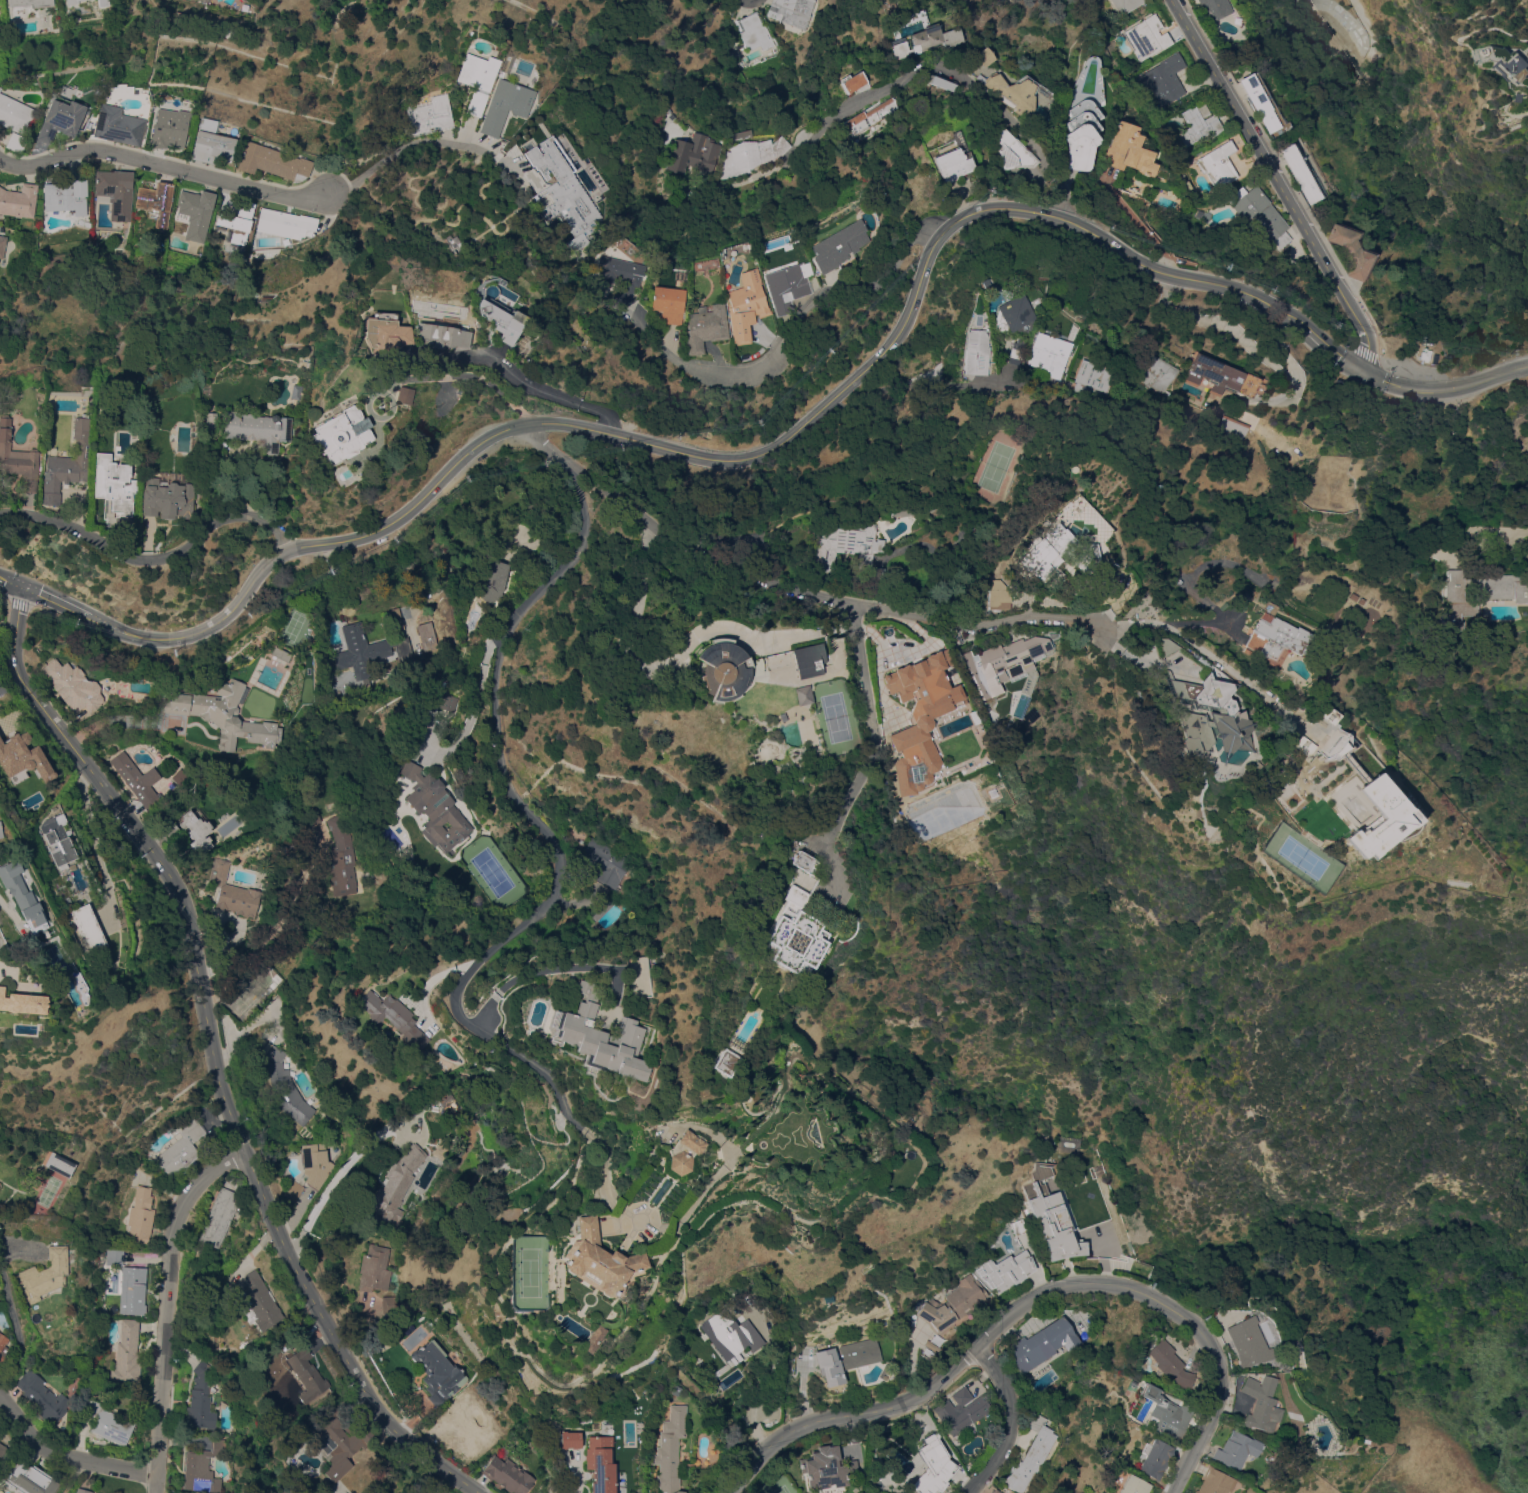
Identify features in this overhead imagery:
building: (72, 1)
building: (104, 2)
building: (885, 2)
building: (30, 3)
building: (1127, 5)
building: (245, 7)
building: (1213, 8)
building: (793, 12)
building: (908, 27)
building: (756, 32)
building: (1147, 37)
building: (924, 40)
building: (1051, 46)
building: (984, 56)
building: (1518, 65)
building: (1165, 78)
building: (478, 79)
building: (852, 81)
building: (941, 85)
road: (974, 88)
building: (1013, 92)
building: (506, 105)
building: (1261, 105)
building: (16, 114)
building: (430, 115)
building: (1083, 115)
building: (870, 116)
building: (61, 119)
building: (118, 125)
building: (1197, 125)
building: (170, 128)
building: (17, 142)
building: (212, 142)
road: (422, 142)
building: (1000, 143)
building: (1128, 150)
building: (694, 153)
building: (753, 154)
building: (273, 162)
building: (952, 164)
building: (1218, 164)
road: (162, 167)
building: (1300, 172)
road: (1279, 183)
building: (1187, 185)
building: (563, 191)
building: (116, 192)
building: (66, 196)
building: (19, 201)
building: (157, 202)
building: (196, 212)
building: (1257, 215)
building: (236, 222)
building: (285, 223)
building: (289, 243)
building: (2, 244)
building: (807, 245)
building: (840, 246)
building: (1350, 249)
building: (623, 278)
building: (789, 286)
building: (747, 305)
building: (670, 307)
building: (1013, 316)
building: (502, 319)
building: (706, 327)
building: (386, 332)
building: (442, 335)
road: (792, 338)
road: (1243, 338)
road: (1276, 340)
road: (1332, 346)
building: (976, 352)
building: (1016, 354)
building: (1049, 354)
road: (1525, 365)
building: (1154, 371)
traffic signals: (1363, 371)
building: (1094, 375)
building: (1221, 376)
road: (455, 378)
road: (542, 388)
road: (1443, 390)
building: (402, 395)
road: (903, 399)
building: (212, 420)
building: (1233, 426)
building: (258, 428)
building: (341, 432)
building: (17, 459)
road: (725, 459)
building: (67, 463)
building: (114, 484)
building: (166, 498)
building: (847, 547)
building: (1057, 554)
road: (154, 557)
road: (11, 580)
building: (494, 582)
traffic signals: (23, 585)
road: (793, 586)
building: (1481, 592)
building: (998, 595)
building: (1352, 596)
building: (1359, 600)
road: (55, 601)
road: (634, 610)
road: (1166, 620)
building: (398, 622)
road: (799, 633)
building: (429, 636)
building: (1275, 640)
building: (368, 650)
building: (282, 654)
building: (809, 659)
building: (1000, 662)
building: (724, 671)
road: (1231, 672)
road: (858, 673)
building: (74, 685)
building: (2, 687)
building: (804, 695)
building: (448, 700)
road: (476, 705)
building: (225, 714)
building: (1209, 714)
building: (1328, 714)
road: (118, 721)
building: (918, 725)
building: (1302, 743)
building: (22, 758)
building: (138, 779)
road: (853, 793)
building: (439, 813)
building: (1377, 814)
building: (312, 817)
building: (168, 825)
building: (197, 830)
building: (1, 831)
building: (58, 838)
building: (788, 845)
building: (341, 857)
building: (798, 860)
building: (603, 863)
road: (558, 874)
building: (233, 891)
building: (22, 894)
building: (89, 928)
building: (791, 935)
road: (536, 972)
building: (70, 982)
building: (23, 1004)
building: (393, 1017)
building: (602, 1038)
road: (214, 1051)
building: (721, 1062)
building: (286, 1088)
building: (444, 1095)
building: (181, 1148)
building: (684, 1152)
building: (60, 1163)
building: (315, 1164)
road: (344, 1164)
building: (397, 1183)
building: (141, 1215)
building: (219, 1216)
building: (1052, 1218)
building: (1018, 1225)
building: (599, 1259)
building: (374, 1268)
building: (1004, 1270)
building: (43, 1274)
building: (130, 1285)
building: (388, 1300)
road: (1028, 1300)
building: (258, 1302)
road: (10, 1304)
building: (954, 1304)
road: (167, 1307)
building: (731, 1334)
building: (592, 1338)
building: (1247, 1341)
building: (1042, 1344)
building: (931, 1345)
building: (3, 1346)
building: (127, 1354)
building: (846, 1359)
building: (60, 1364)
building: (1170, 1364)
building: (437, 1371)
building: (305, 1373)
building: (1149, 1392)
building: (42, 1397)
building: (201, 1397)
building: (1262, 1403)
building: (959, 1413)
building: (1170, 1416)
building: (106, 1422)
road: (1012, 1423)
building: (465, 1431)
building: (575, 1435)
building: (339, 1442)
building: (2, 1448)
building: (1236, 1449)
building: (670, 1450)
building: (925, 1453)
building: (1031, 1454)
road: (68, 1456)
building: (1155, 1458)
building: (610, 1463)
building: (203, 1467)
building: (826, 1467)
building: (932, 1469)
road: (577, 1471)
building: (507, 1474)
road: (71, 1476)
building: (31, 1480)
building: (1215, 1482)
building: (1133, 1485)
building: (83, 1490)
building: (996, 1491)
building: (803, 1492)

